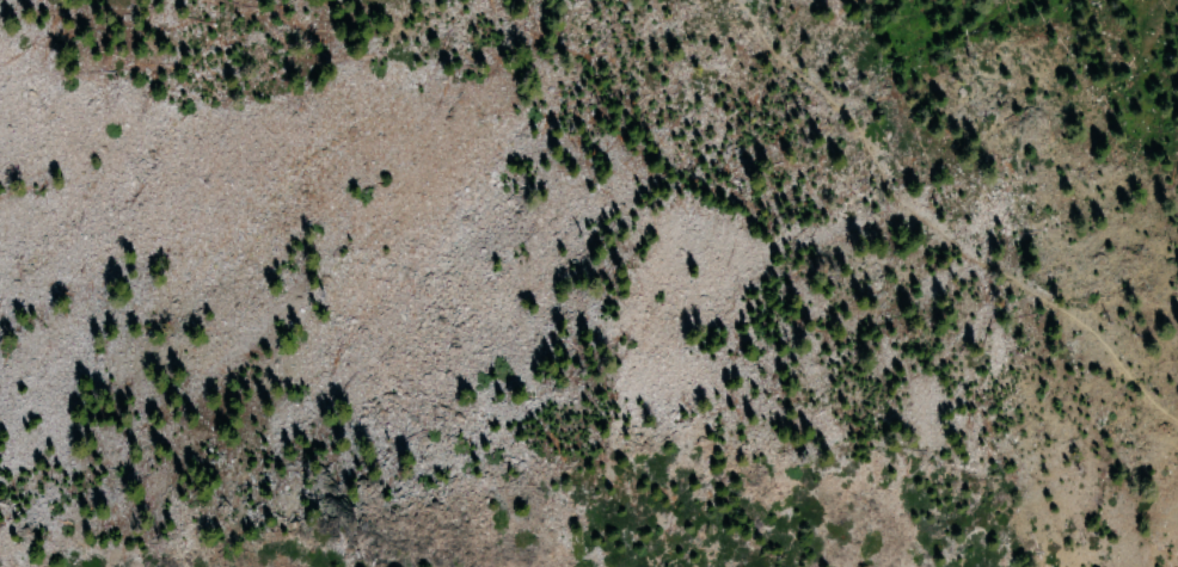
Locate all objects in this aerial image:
road: (934, 232)

